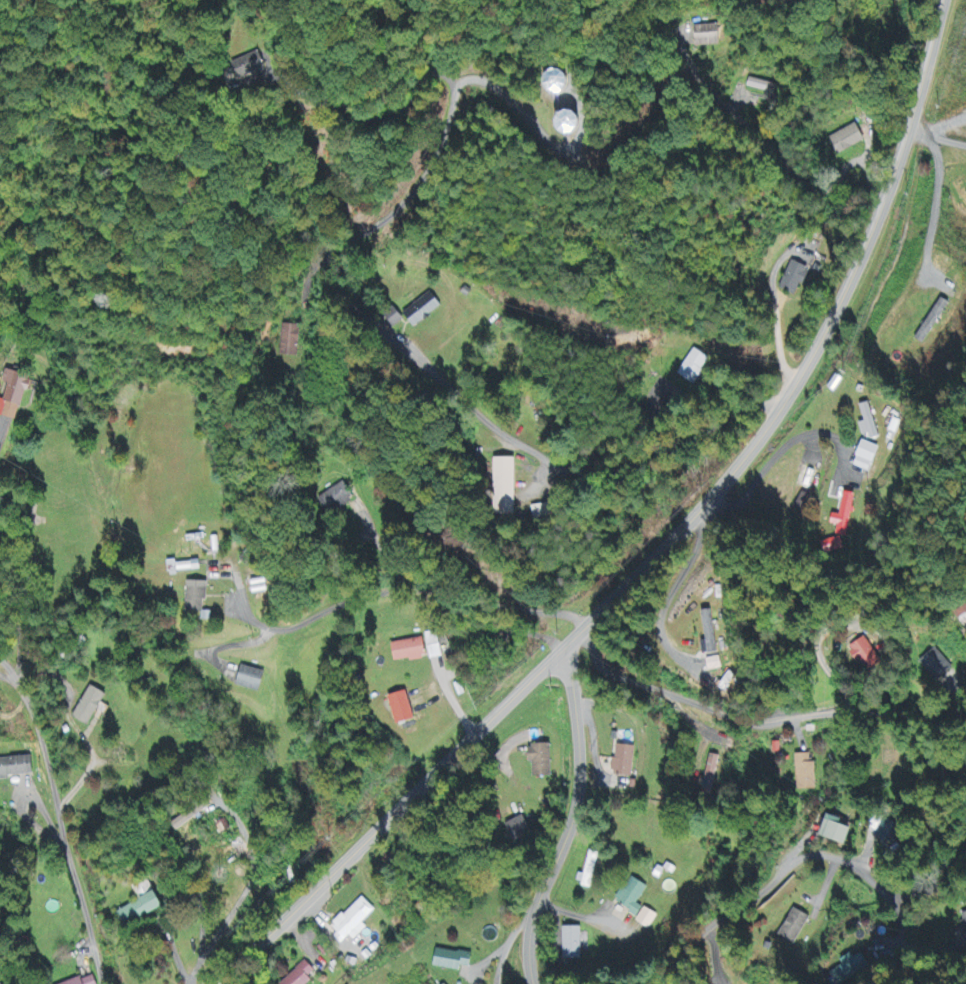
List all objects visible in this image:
building: (701, 36)
building: (249, 66)
building: (556, 82)
building: (762, 88)
building: (569, 124)
building: (846, 140)
building: (965, 200)
building: (791, 279)
building: (418, 311)
building: (392, 318)
building: (928, 322)
building: (288, 342)
building: (689, 368)
road: (454, 386)
building: (13, 394)
building: (867, 423)
building: (861, 457)
building: (499, 488)
building: (335, 499)
building: (838, 526)
road: (665, 548)
building: (182, 566)
road: (691, 566)
road: (414, 590)
building: (194, 602)
building: (709, 634)
building: (433, 646)
building: (406, 651)
building: (864, 656)
building: (934, 665)
road: (5, 667)
road: (5, 673)
building: (247, 679)
building: (87, 707)
building: (396, 707)
road: (757, 716)
building: (537, 760)
building: (621, 761)
building: (16, 768)
building: (803, 773)
building: (710, 776)
building: (188, 816)
road: (573, 818)
road: (66, 825)
building: (515, 830)
building: (838, 831)
building: (886, 831)
building: (587, 872)
road: (771, 883)
building: (632, 902)
building: (135, 909)
building: (350, 922)
building: (963, 923)
building: (790, 927)
building: (569, 945)
building: (447, 960)
building: (851, 969)
building: (299, 975)
building: (82, 981)

